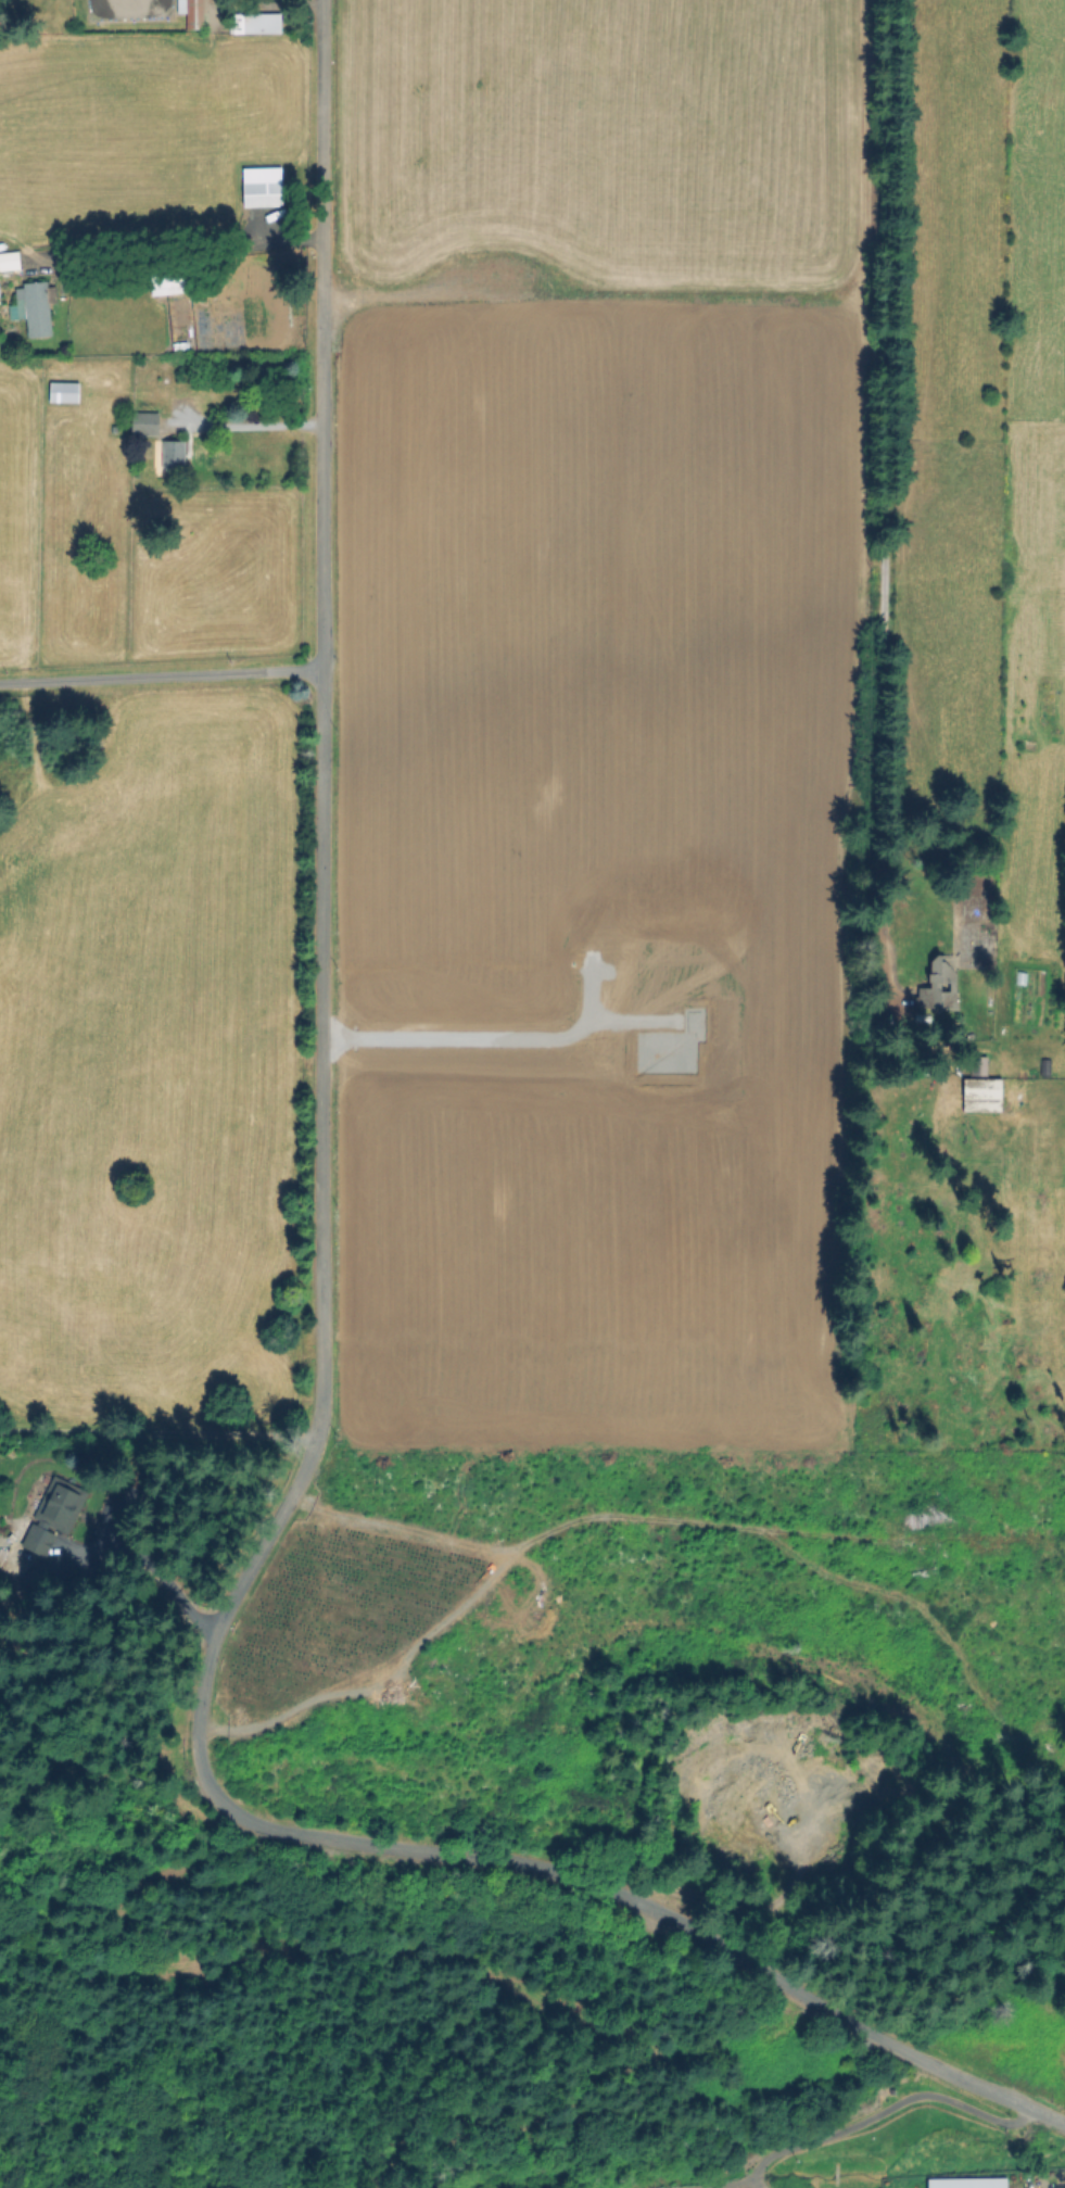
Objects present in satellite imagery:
building: (193, 12)
building: (257, 23)
crop: (141, 124)
building: (263, 187)
road: (185, 245)
building: (10, 261)
building: (170, 274)
building: (39, 307)
building: (65, 392)
building: (147, 422)
road: (244, 423)
building: (174, 454)
road: (882, 476)
crop: (140, 573)
road: (161, 671)
crop: (489, 791)
building: (940, 987)
building: (978, 1064)
building: (982, 1093)
road: (319, 1375)
building: (55, 1514)
building: (3, 1556)
building: (769, 2025)
road: (882, 2111)
building: (963, 2177)

